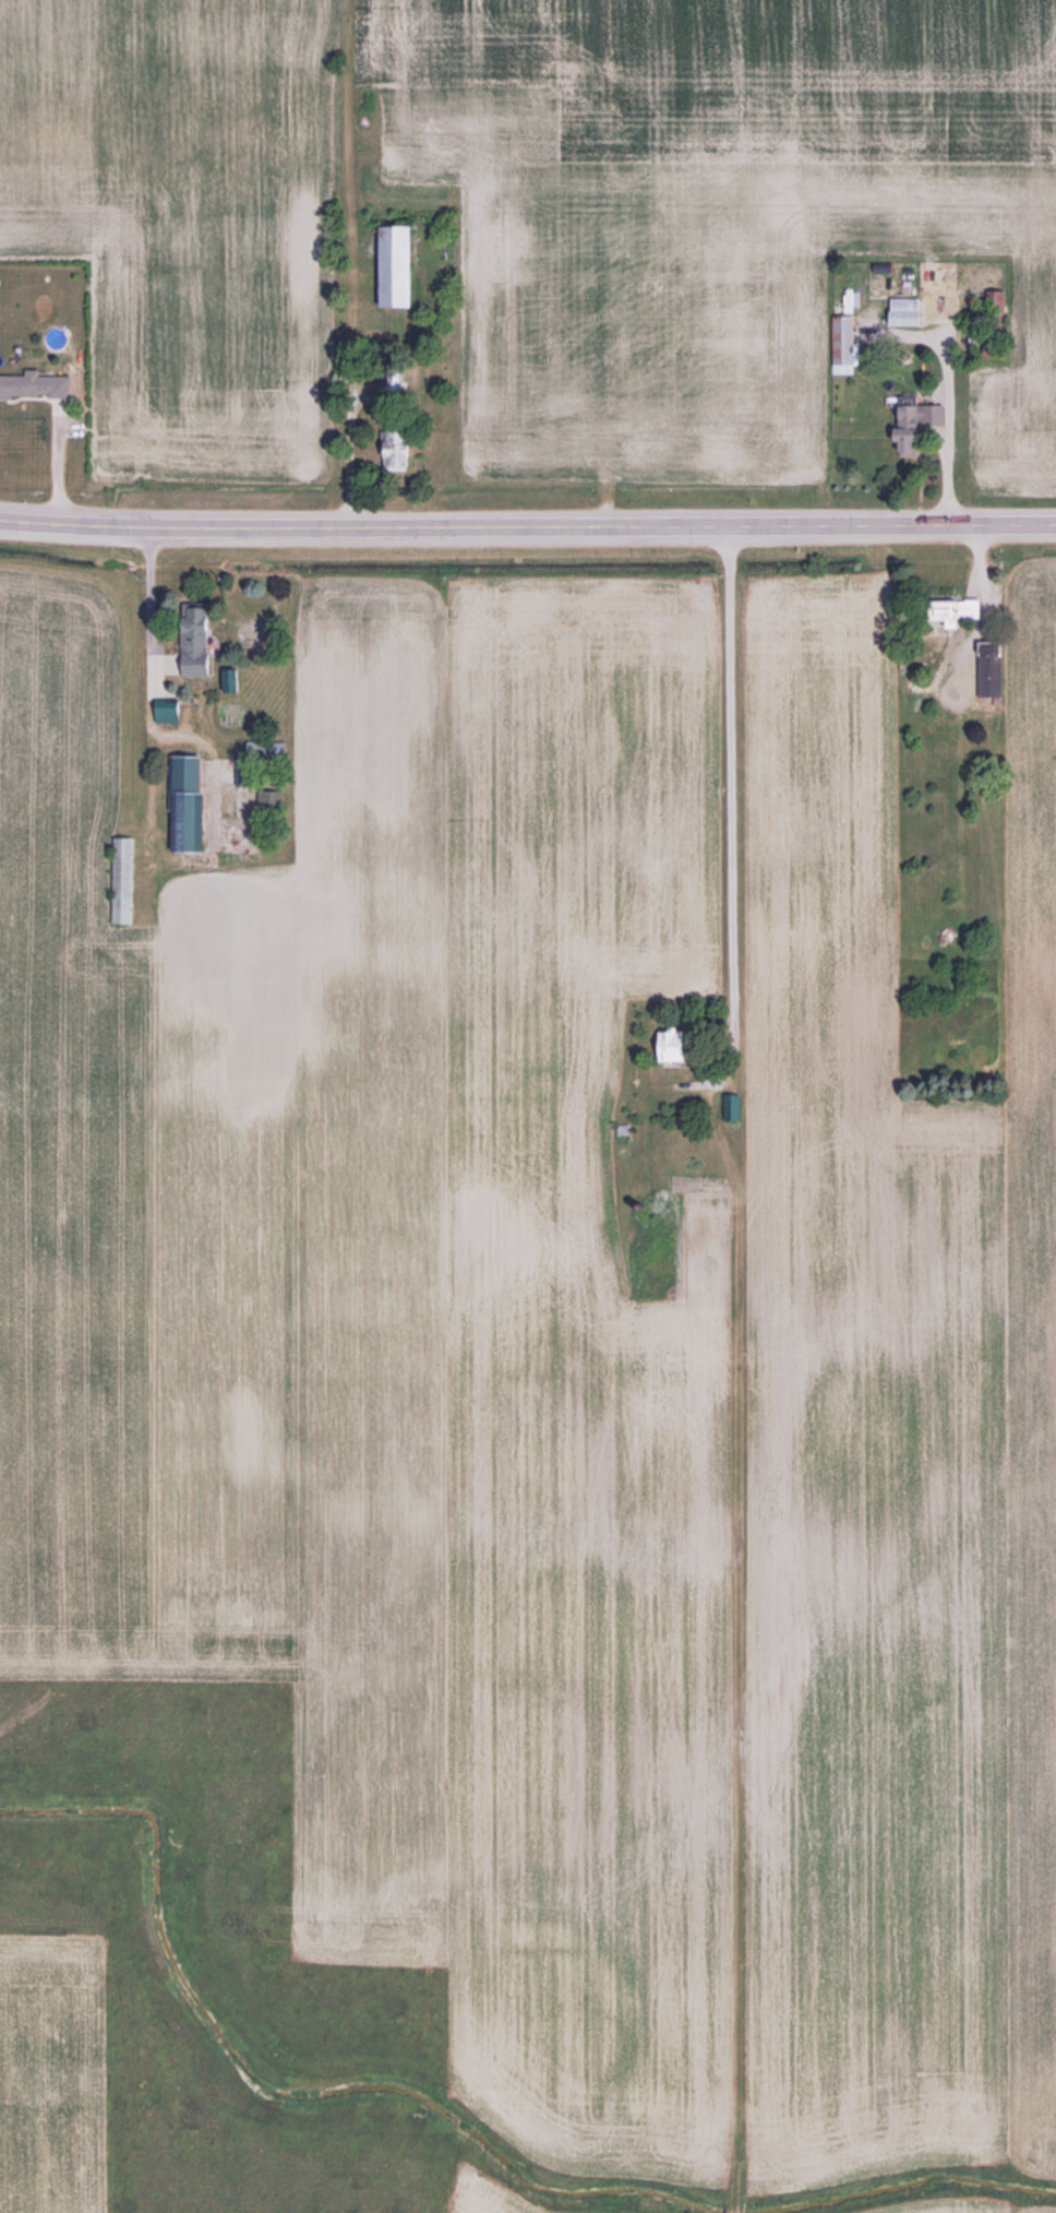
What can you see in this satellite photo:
building: (401, 266)
building: (845, 340)
building: (37, 386)
building: (917, 423)
road: (946, 424)
building: (400, 449)
road: (527, 525)
road: (980, 599)
building: (960, 610)
building: (201, 642)
building: (993, 668)
road: (146, 700)
building: (171, 711)
road: (729, 795)
building: (191, 804)
building: (127, 881)
building: (679, 1046)
building: (734, 1109)

